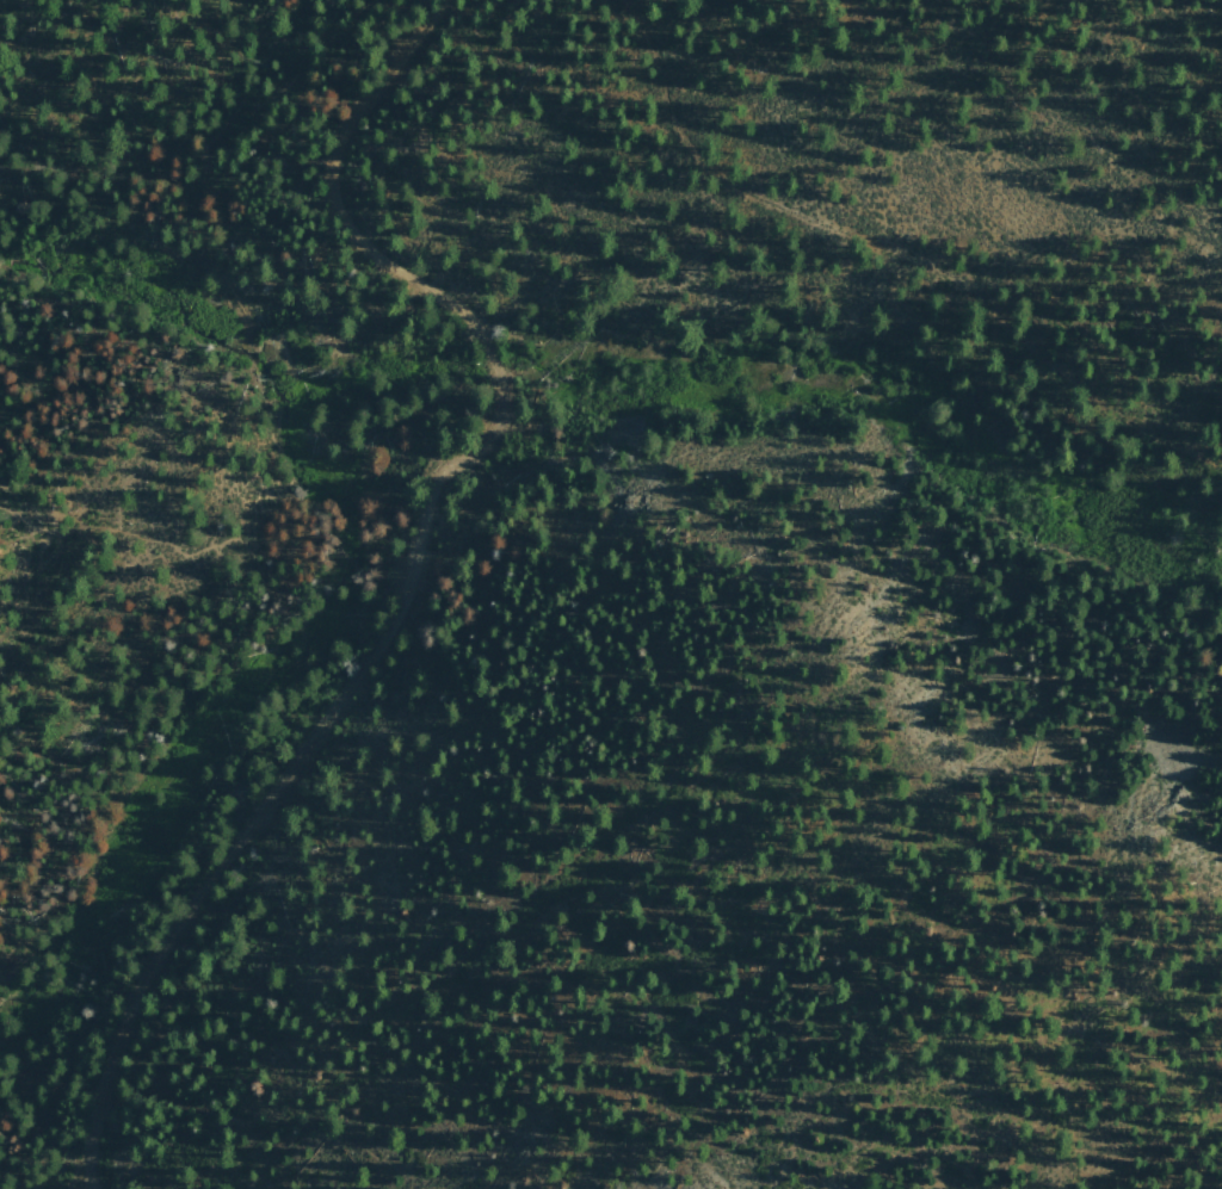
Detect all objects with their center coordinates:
road: (94, 120)
road: (859, 302)
road: (276, 452)
road: (418, 571)
road: (138, 737)
road: (26, 1082)

